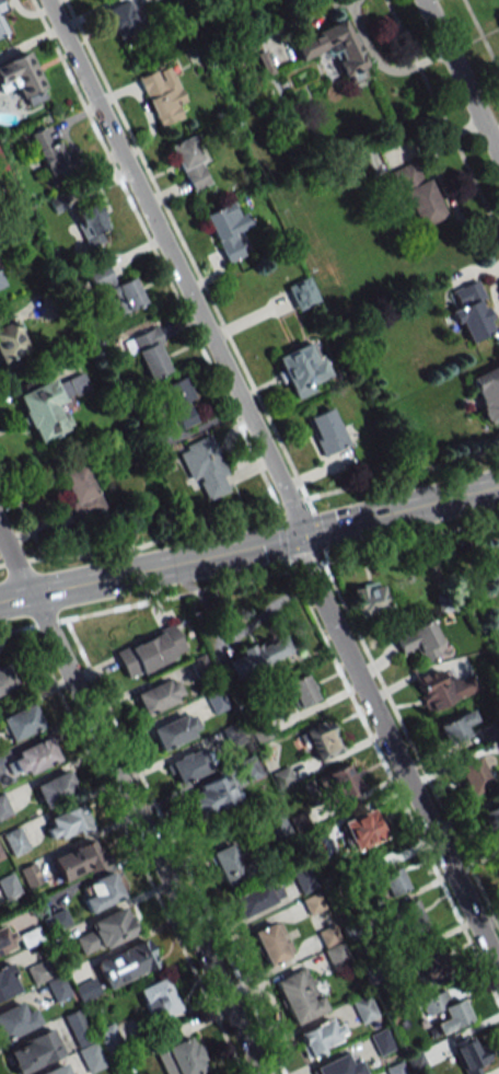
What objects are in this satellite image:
building: (120, 19)
building: (2, 27)
building: (347, 55)
building: (22, 78)
road: (461, 78)
building: (162, 95)
road: (494, 131)
building: (48, 149)
building: (189, 163)
road: (118, 168)
building: (417, 194)
building: (90, 224)
building: (227, 230)
building: (100, 276)
building: (1, 281)
building: (300, 293)
building: (126, 295)
building: (472, 312)
building: (10, 340)
building: (149, 353)
building: (300, 367)
building: (487, 392)
building: (178, 403)
building: (48, 405)
building: (327, 431)
road: (244, 435)
building: (206, 469)
building: (80, 490)
road: (395, 508)
traffic signals: (291, 534)
road: (14, 559)
road: (160, 562)
road: (251, 580)
road: (14, 592)
building: (368, 599)
building: (420, 640)
building: (150, 651)
building: (257, 655)
road: (357, 671)
building: (5, 679)
building: (433, 690)
building: (299, 691)
building: (156, 695)
building: (217, 701)
building: (20, 721)
building: (455, 727)
building: (174, 730)
building: (322, 740)
building: (32, 758)
building: (187, 766)
building: (473, 775)
building: (341, 782)
building: (55, 788)
building: (211, 796)
building: (3, 807)
building: (491, 820)
building: (67, 822)
building: (362, 829)
road: (144, 832)
building: (14, 841)
road: (216, 845)
building: (78, 861)
building: (227, 864)
building: (30, 875)
building: (393, 881)
road: (461, 888)
building: (100, 892)
building: (255, 898)
building: (408, 917)
building: (103, 932)
building: (28, 937)
building: (5, 940)
building: (271, 943)
building: (336, 955)
building: (124, 963)
building: (431, 965)
building: (37, 972)
building: (7, 982)
building: (58, 991)
building: (86, 991)
building: (298, 995)
building: (158, 998)
building: (363, 1008)
building: (445, 1011)
building: (16, 1020)
building: (107, 1036)
building: (320, 1037)
building: (82, 1041)
building: (381, 1042)
building: (32, 1051)
building: (471, 1055)
building: (181, 1058)
building: (416, 1062)
building: (338, 1065)
building: (396, 1069)
building: (58, 1070)
building: (78, 1073)
building: (210, 1073)

